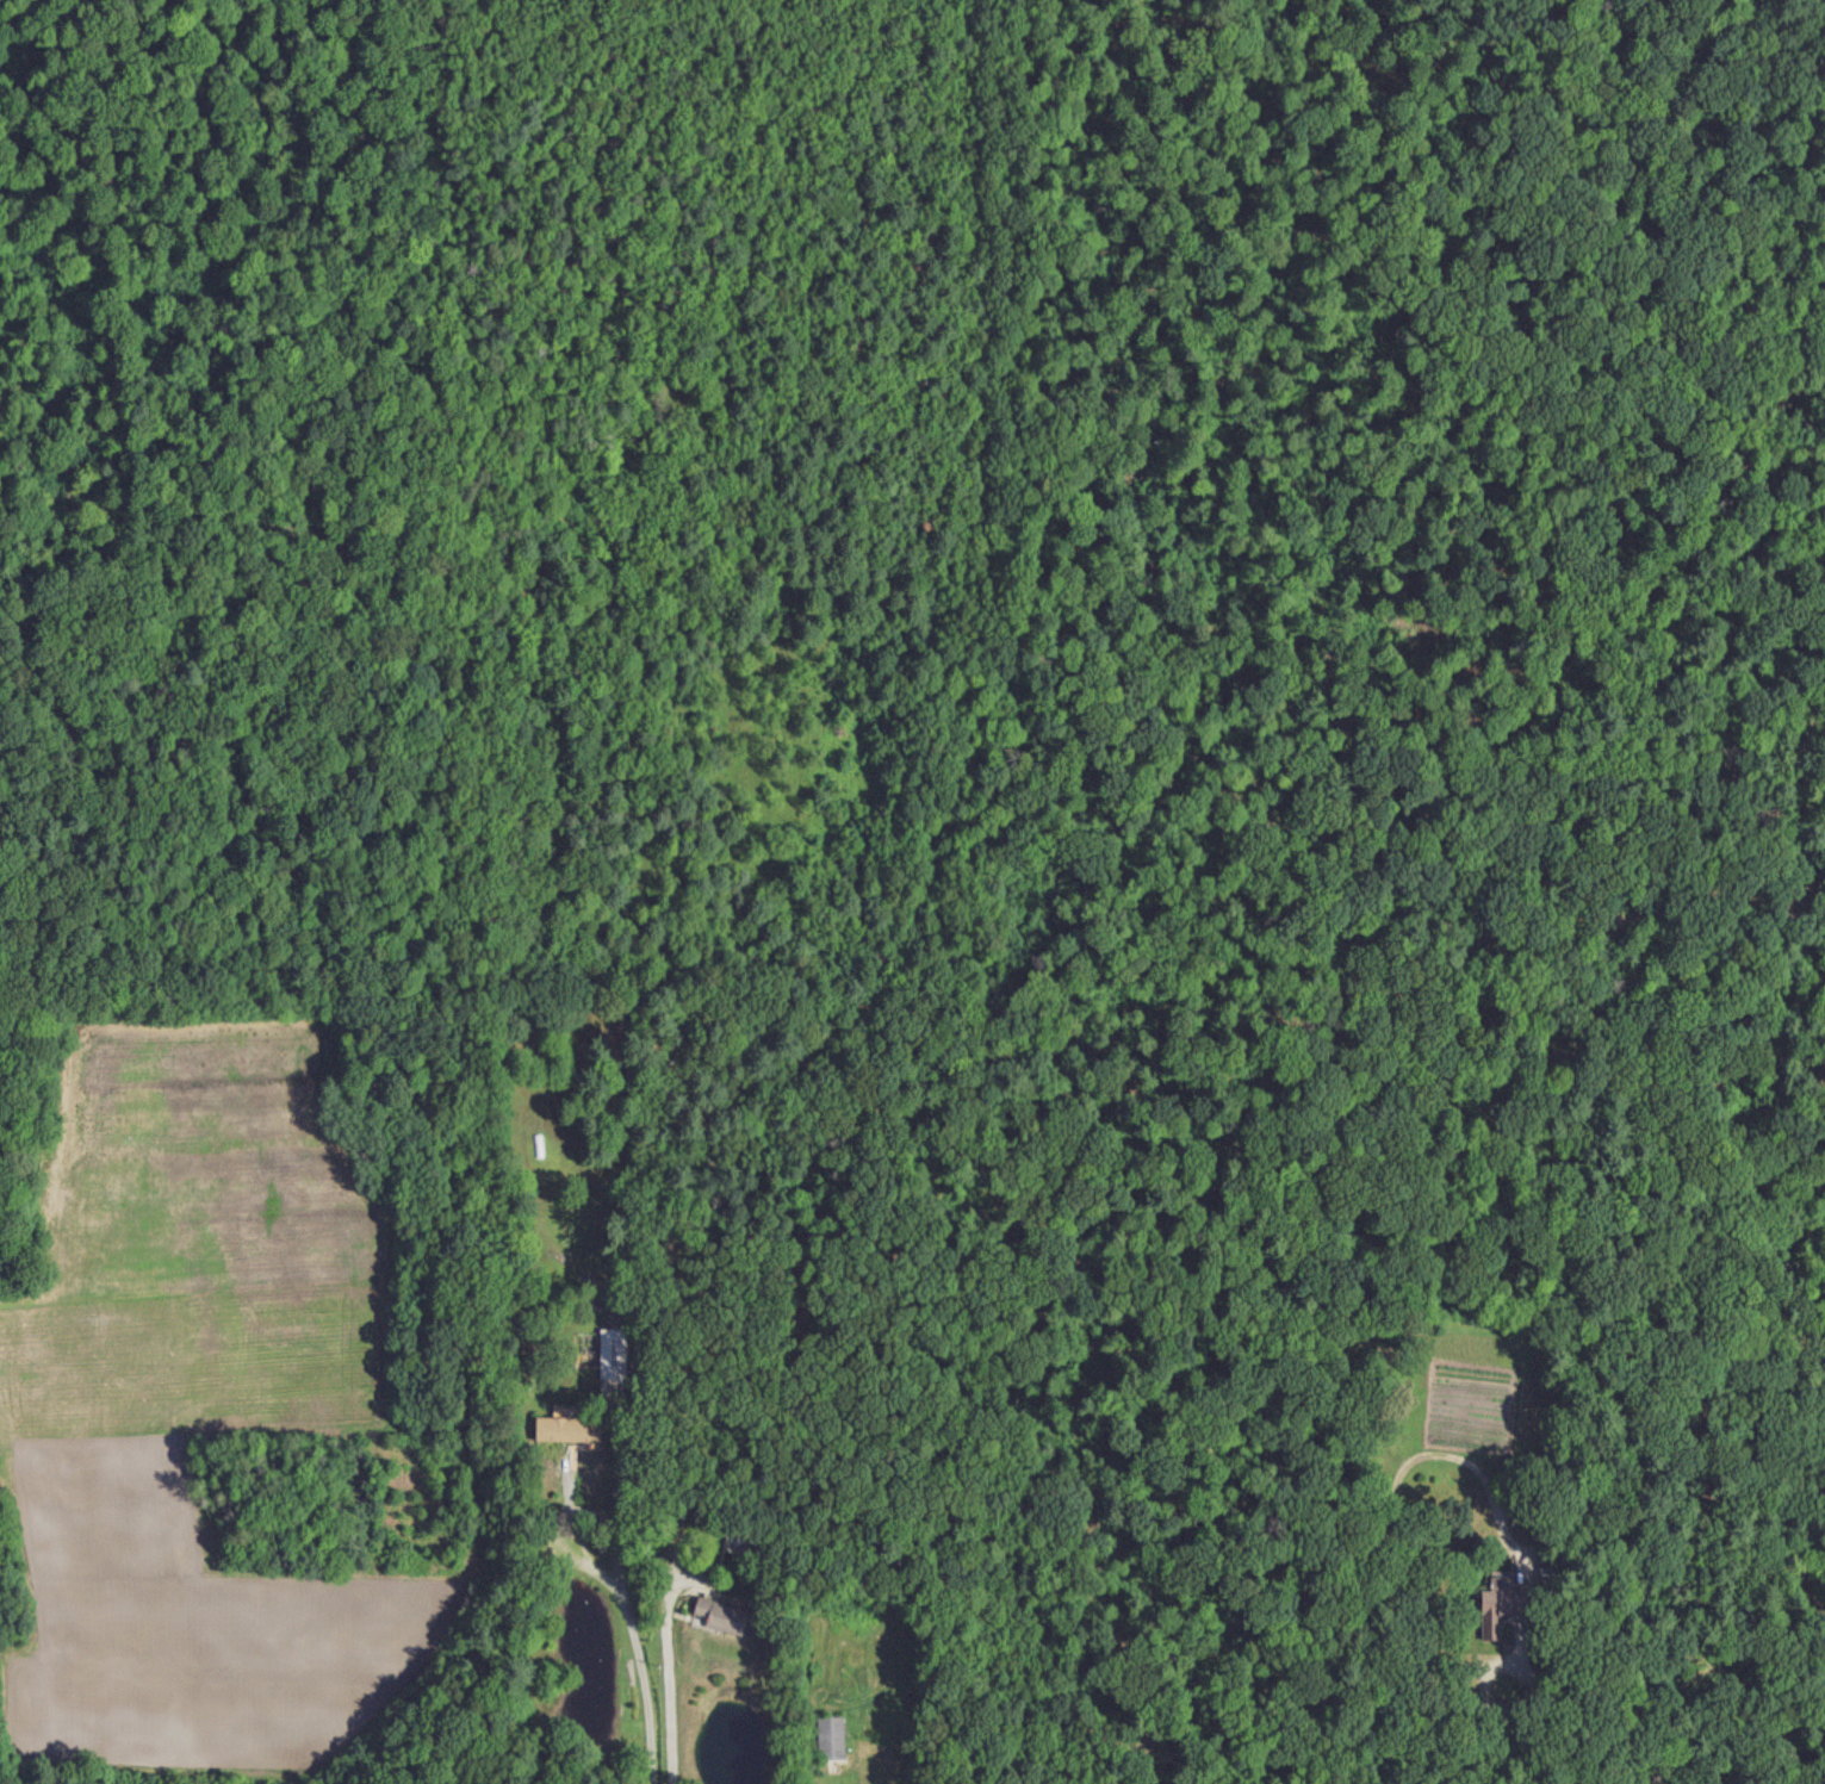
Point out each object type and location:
building: (560, 1431)
road: (583, 1548)
road: (623, 1589)
building: (1496, 1606)
building: (721, 1617)
road: (669, 1674)
road: (1488, 1676)
building: (831, 1739)
road: (1599, 1741)

